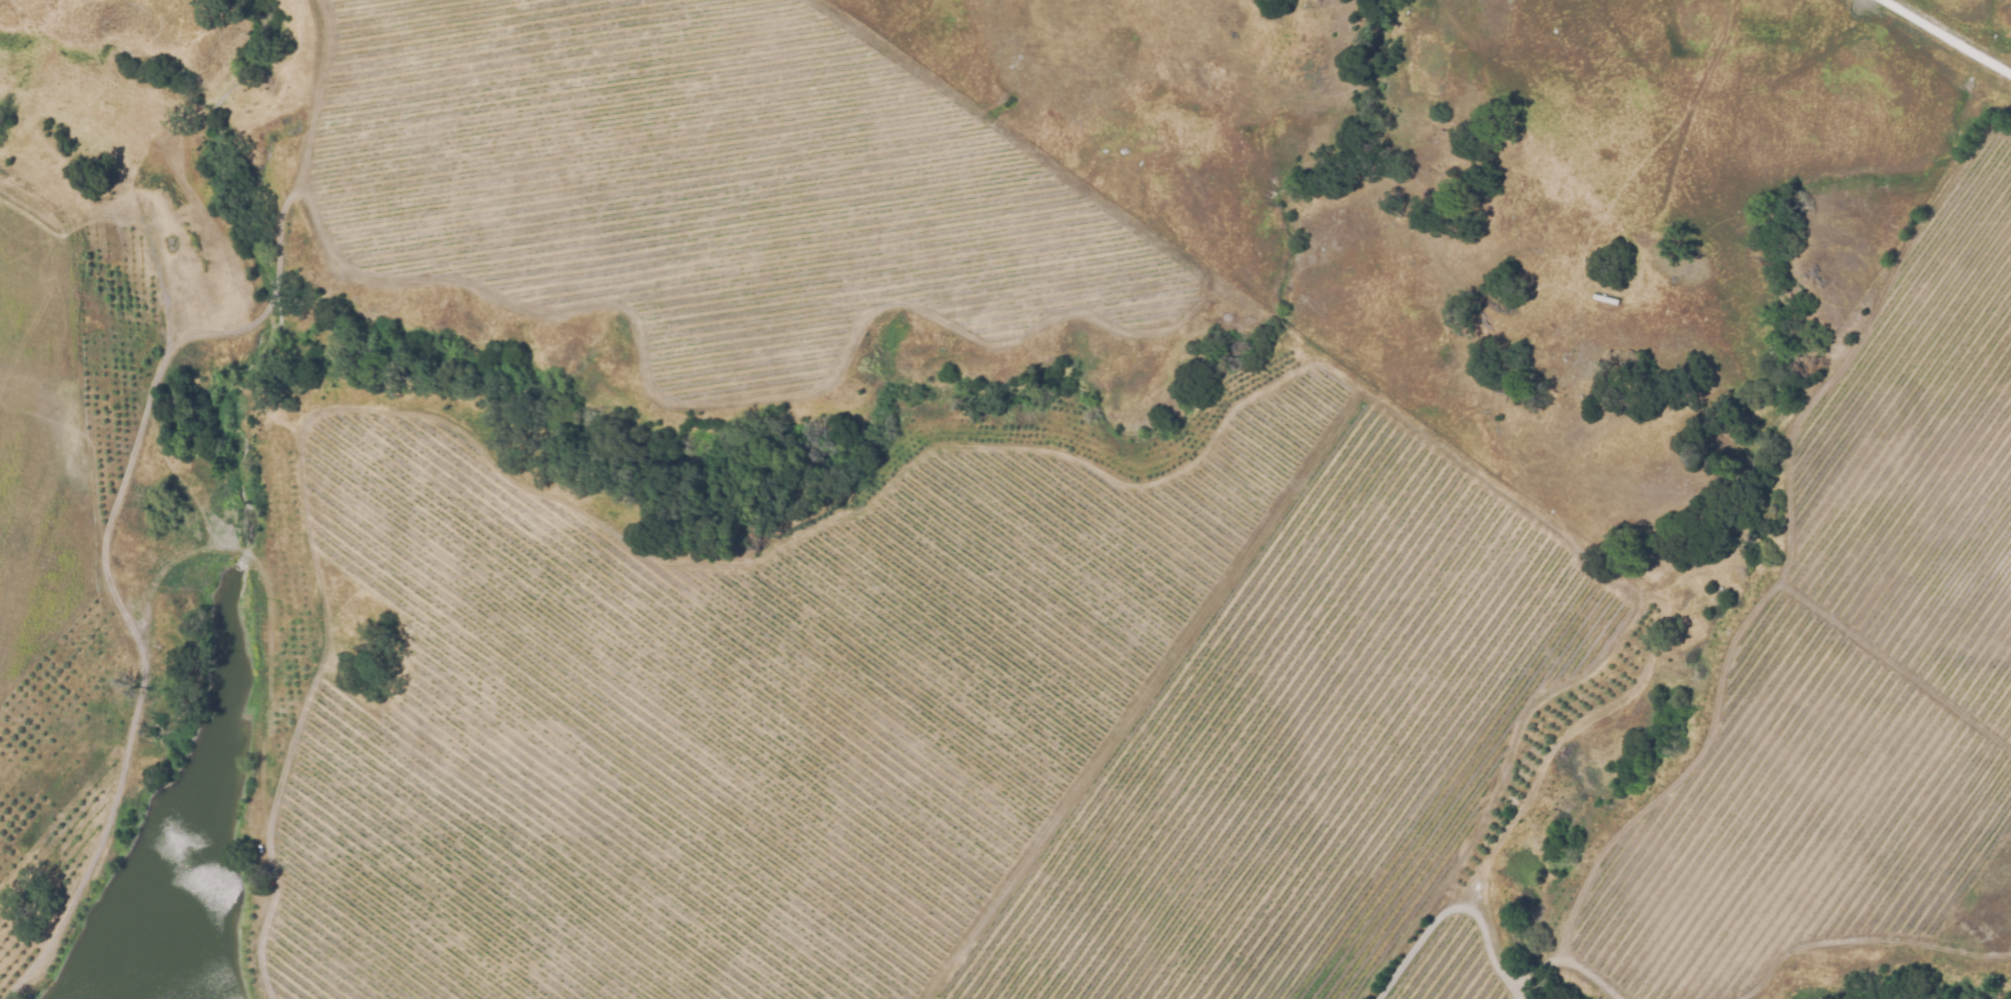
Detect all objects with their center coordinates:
road: (1948, 38)

